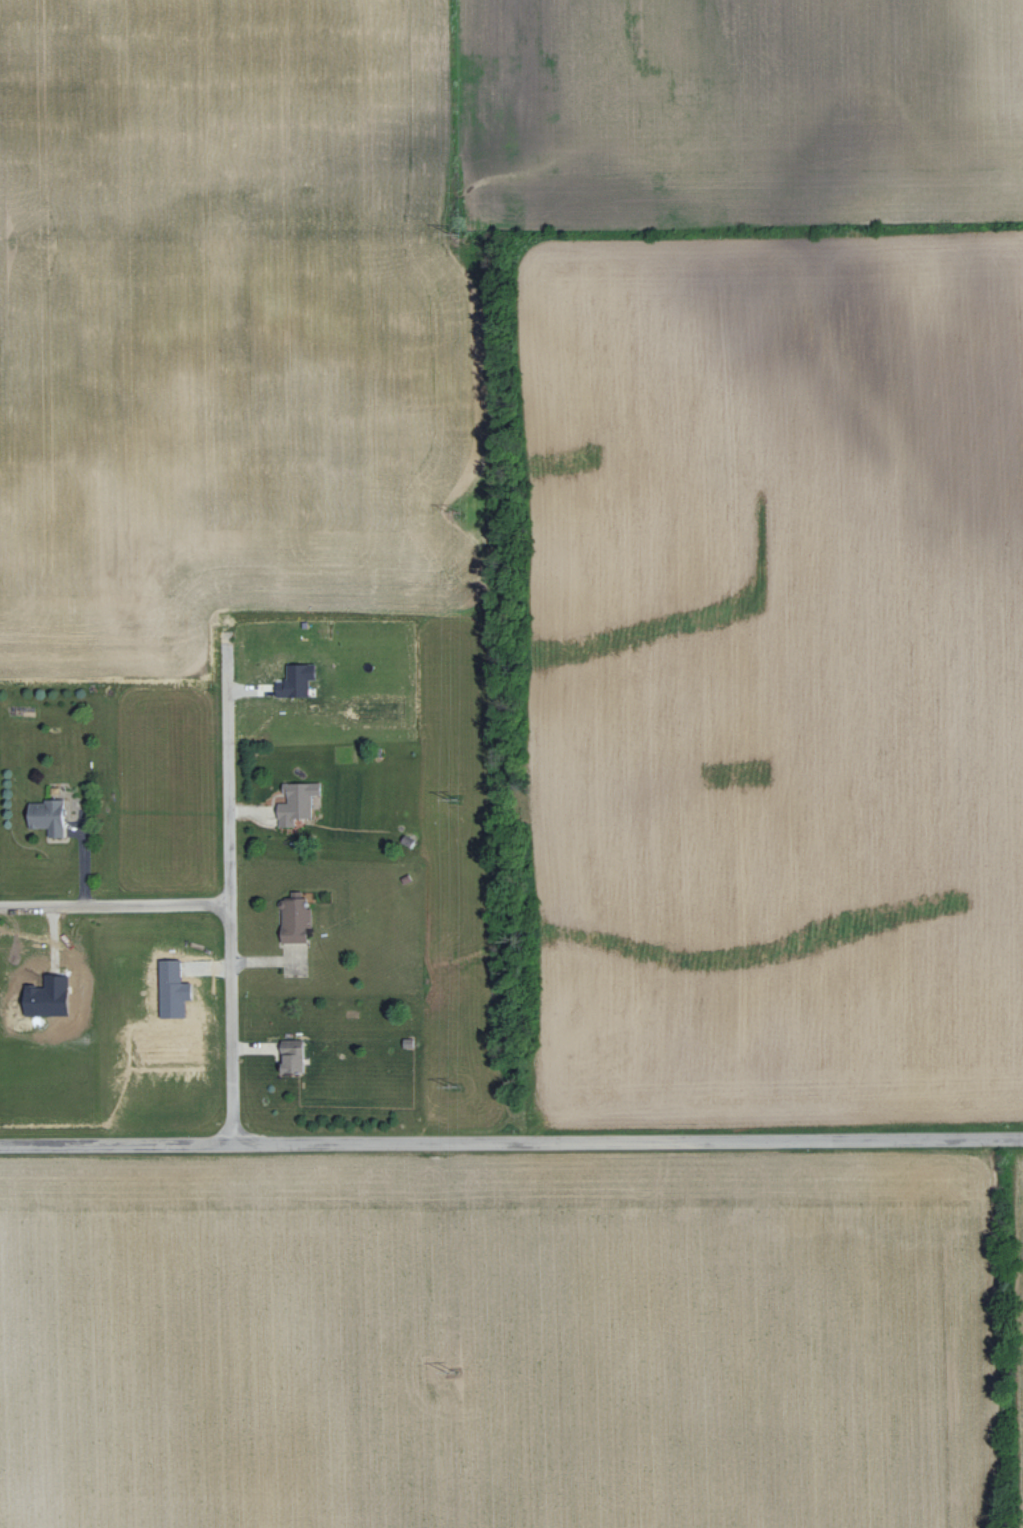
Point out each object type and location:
building: (300, 680)
building: (299, 802)
building: (48, 817)
road: (230, 888)
road: (115, 905)
road: (511, 1141)

